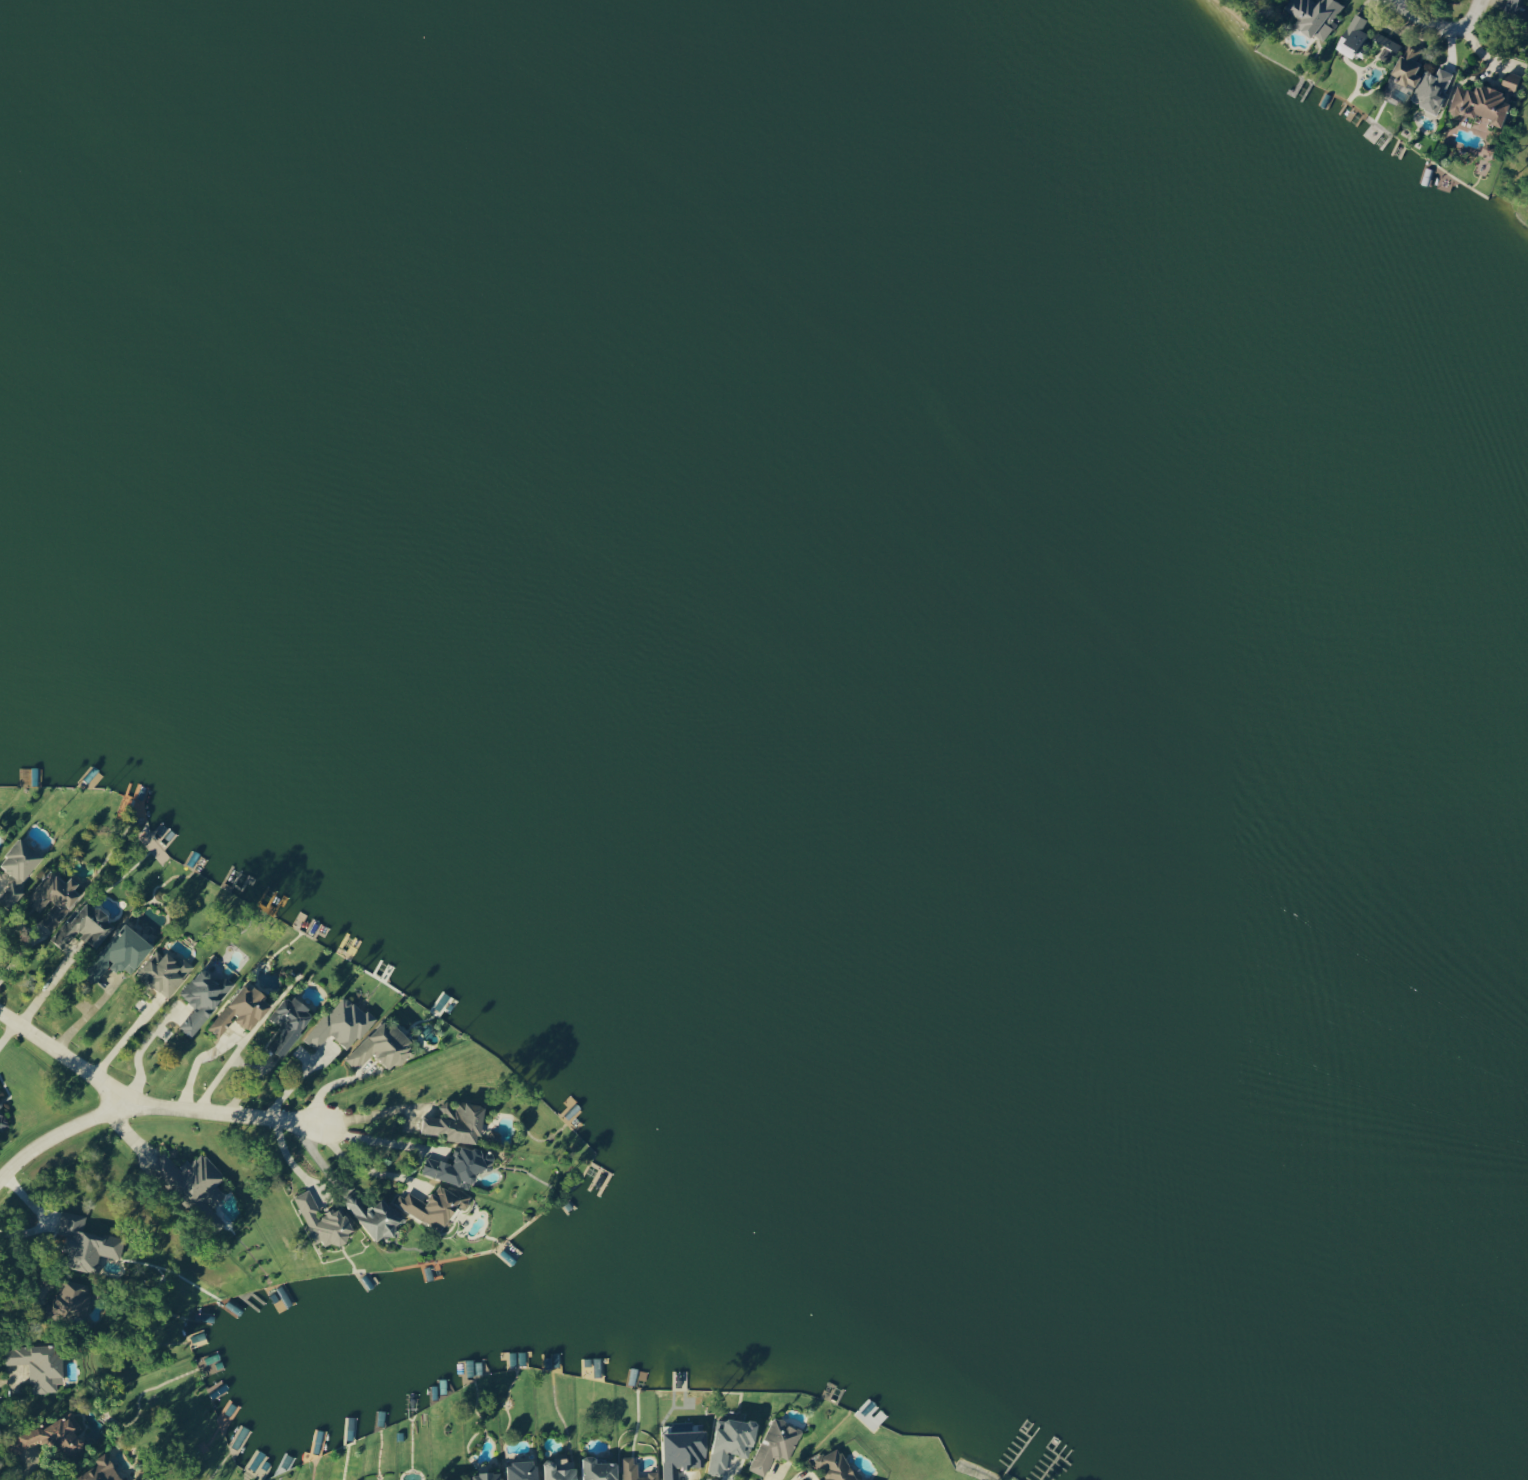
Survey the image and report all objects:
building: (1521, 2)
building: (1317, 15)
road: (1429, 17)
road: (1470, 17)
building: (1357, 38)
building: (1425, 80)
building: (1485, 116)
park: (1518, 172)
building: (20, 867)
building: (55, 896)
building: (85, 927)
building: (122, 952)
building: (167, 971)
building: (203, 998)
building: (243, 1009)
building: (290, 1022)
building: (342, 1024)
road: (126, 1035)
building: (384, 1046)
road: (71, 1049)
road: (144, 1055)
road: (197, 1062)
road: (149, 1106)
building: (4, 1117)
building: (458, 1121)
road: (372, 1142)
building: (458, 1165)
building: (194, 1178)
building: (436, 1205)
building: (376, 1216)
building: (324, 1221)
building: (88, 1243)
building: (75, 1299)
building: (39, 1365)
road: (15, 1377)
building: (54, 1435)
building: (732, 1442)
building: (776, 1444)
building: (684, 1451)
building: (836, 1466)
building: (600, 1469)
building: (103, 1470)
building: (524, 1470)
building: (562, 1470)
road: (727, 1470)
building: (636, 1471)
building: (489, 1475)
building: (455, 1479)

